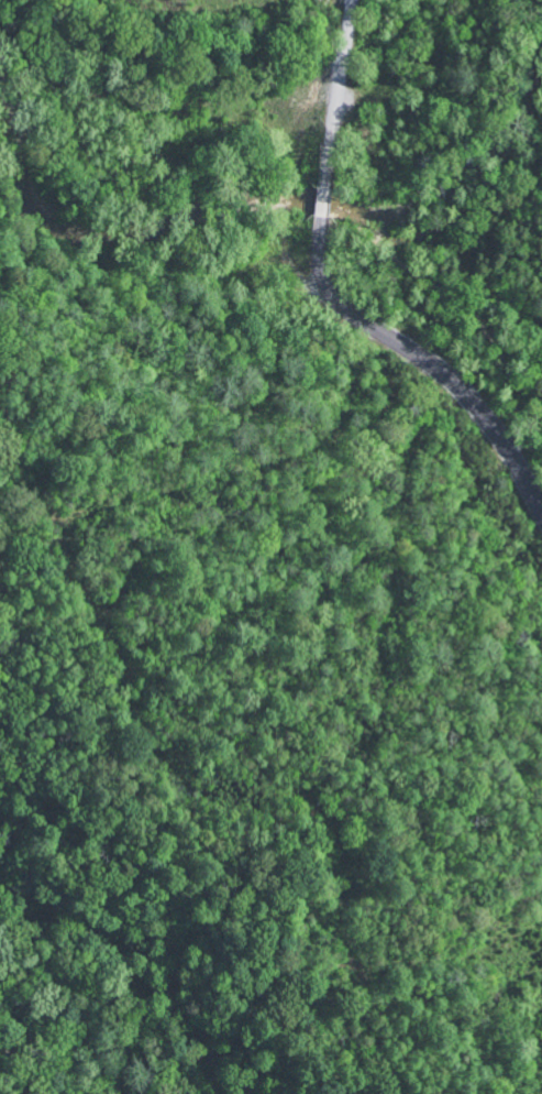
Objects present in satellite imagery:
road: (479, 236)
road: (411, 251)
road: (335, 293)
road: (403, 306)

